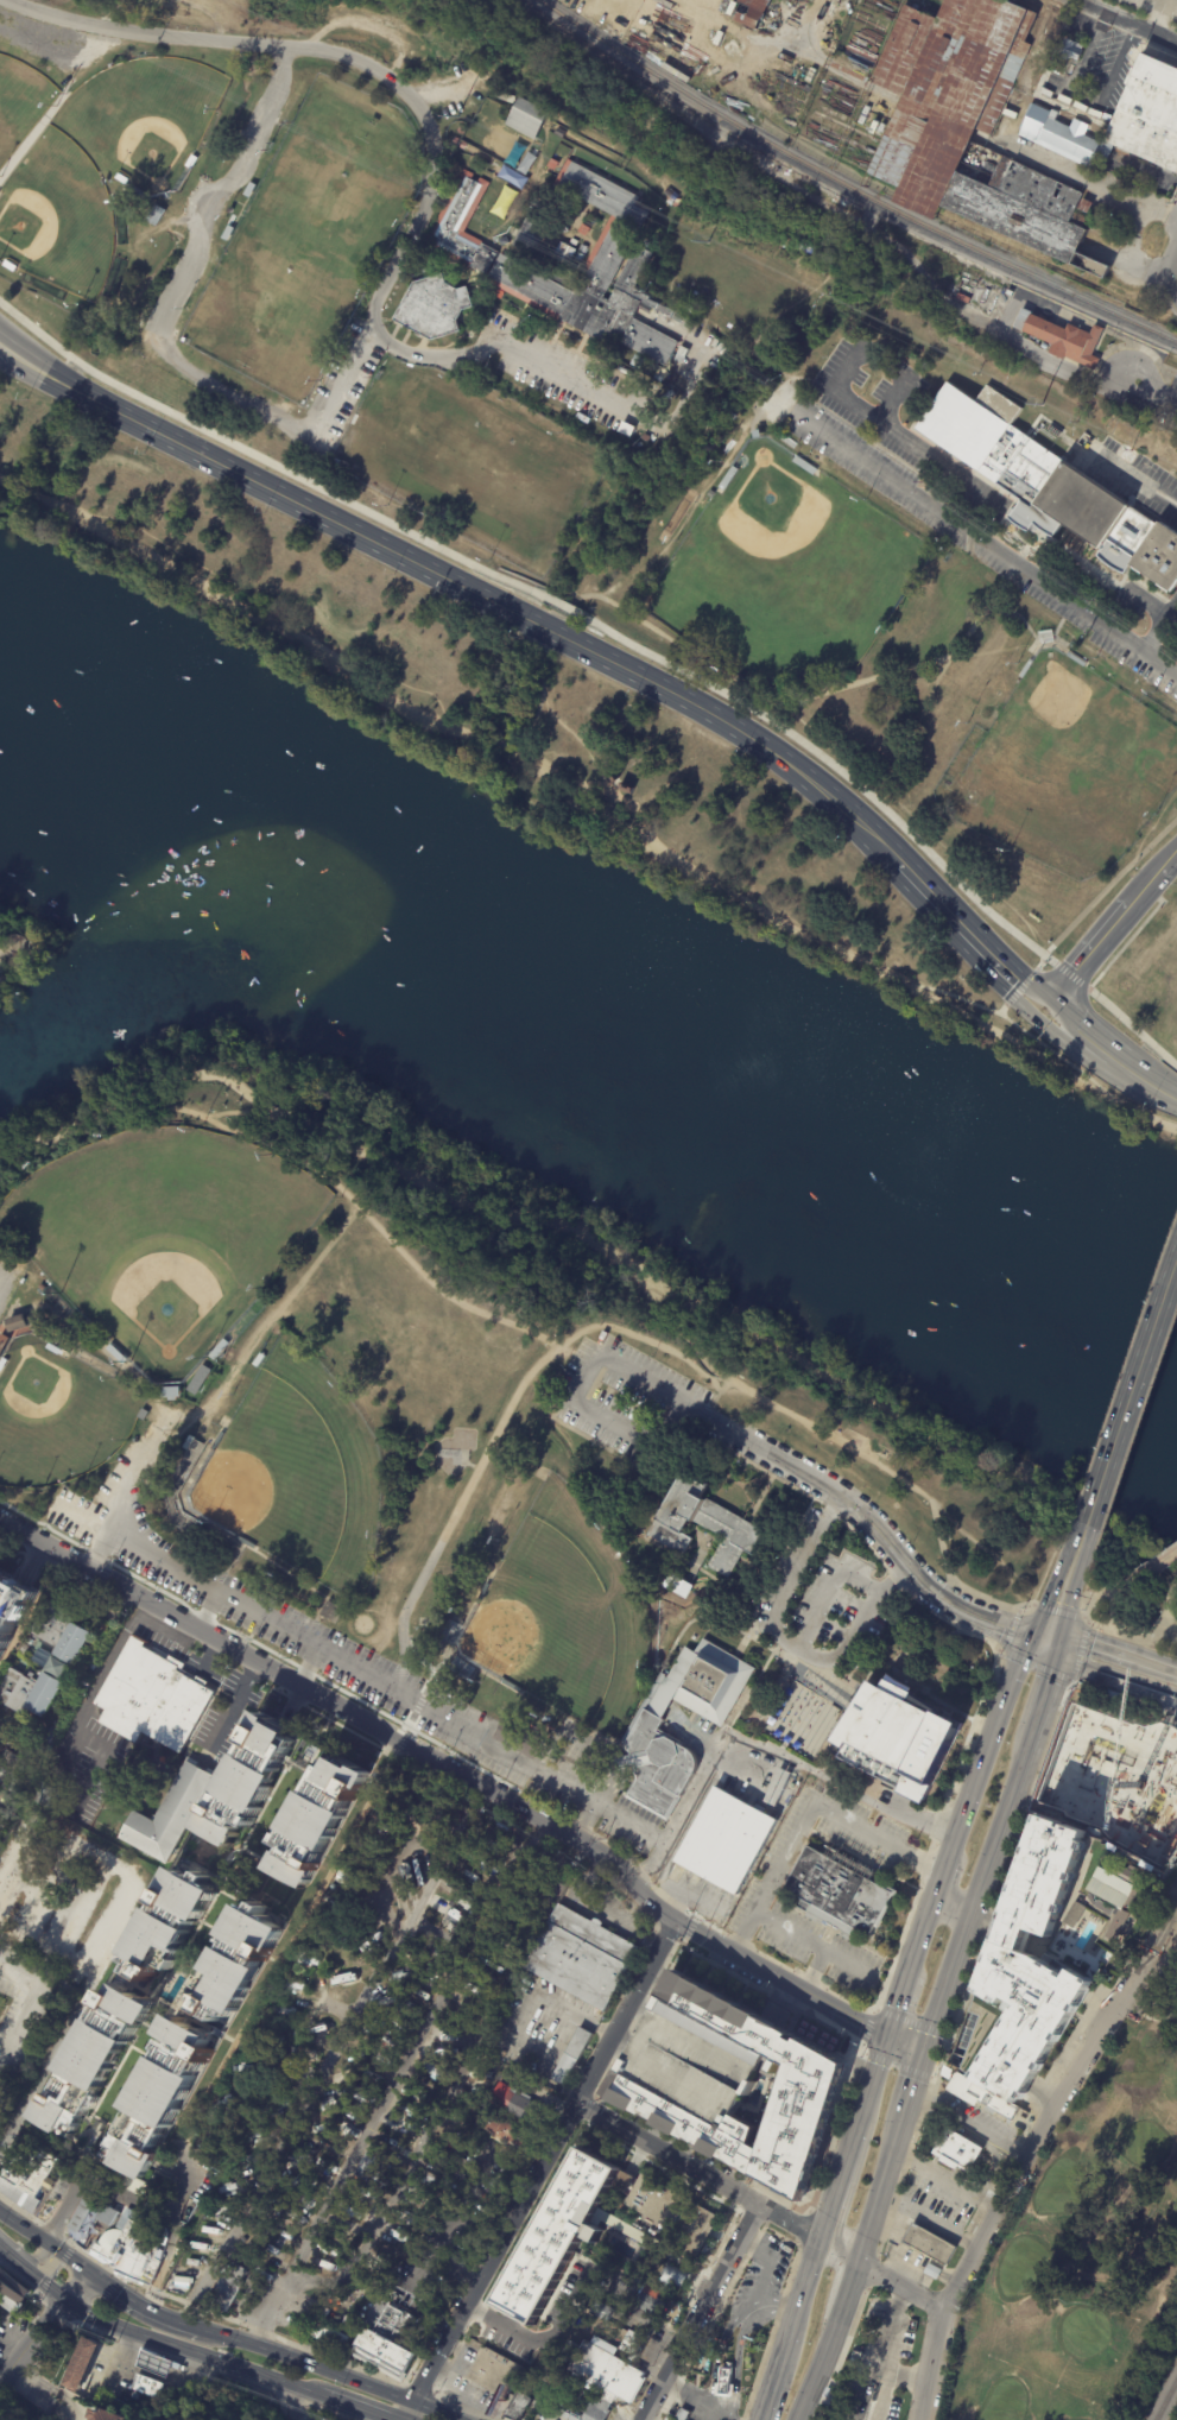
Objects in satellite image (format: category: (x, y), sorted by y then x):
building: (751, 13)
road: (1128, 20)
building: (855, 57)
building: (1068, 58)
building: (481, 76)
road: (393, 83)
road: (1089, 95)
park: (21, 103)
railway: (704, 116)
park: (141, 119)
building: (527, 119)
building: (557, 120)
building: (1121, 121)
building: (574, 125)
building: (970, 127)
building: (562, 133)
railway: (764, 149)
building: (192, 163)
building: (121, 179)
road: (1086, 181)
railway: (849, 185)
building: (251, 190)
building: (1088, 207)
building: (154, 215)
park: (56, 216)
building: (228, 233)
park: (303, 234)
building: (532, 234)
building: (502, 240)
building: (121, 241)
building: (574, 242)
road: (1131, 247)
building: (567, 255)
road: (1170, 263)
building: (488, 264)
building: (7, 266)
building: (425, 268)
road: (1020, 283)
railway: (1037, 289)
building: (1008, 291)
road: (1170, 291)
building: (434, 308)
road: (1081, 315)
road: (160, 323)
road: (15, 337)
building: (1065, 340)
road: (1146, 340)
road: (1118, 346)
road: (1030, 349)
road: (45, 365)
road: (17, 367)
road: (17, 369)
parking lot: (570, 378)
road: (62, 388)
road: (1152, 390)
parking lot: (1167, 404)
road: (866, 416)
building: (627, 429)
building: (758, 434)
road: (778, 438)
road: (265, 463)
park: (462, 463)
building: (805, 466)
parking lot: (1128, 474)
building: (728, 479)
road: (5, 481)
road: (1137, 481)
building: (1049, 485)
road: (23, 488)
park: (561, 491)
parking lot: (955, 497)
road: (309, 510)
road: (968, 533)
park: (783, 574)
road: (1171, 605)
road: (565, 606)
road: (571, 608)
road: (255, 615)
road: (548, 628)
road: (1153, 632)
road: (556, 634)
building: (1076, 661)
building: (1027, 670)
road: (814, 693)
road: (550, 713)
road: (533, 726)
road: (742, 729)
park: (1064, 735)
road: (494, 741)
road: (550, 757)
road: (835, 770)
building: (610, 773)
building: (624, 786)
road: (618, 800)
road: (513, 805)
road: (564, 809)
road: (1167, 864)
road: (698, 874)
road: (1152, 880)
road: (1102, 892)
road: (1139, 896)
road: (950, 916)
building: (11, 944)
road: (1125, 946)
road: (5, 948)
park: (15, 949)
road: (19, 953)
road: (1090, 953)
road: (30, 955)
road: (1071, 978)
road: (1027, 985)
road: (1020, 987)
traffic signals: (1050, 1002)
road: (1002, 1009)
road: (1030, 1015)
road: (1067, 1015)
traffic signals: (1033, 1018)
road: (1006, 1019)
road: (1132, 1028)
river: (583, 1036)
road: (999, 1036)
road: (1090, 1048)
road: (189, 1057)
road: (178, 1072)
road: (200, 1072)
road: (1127, 1073)
road: (1162, 1094)
road: (1137, 1110)
road: (239, 1112)
road: (335, 1187)
park: (160, 1236)
road: (600, 1250)
building: (38, 1276)
road: (1173, 1279)
building: (44, 1284)
building: (64, 1301)
building: (17, 1323)
building: (48, 1334)
building: (2, 1342)
building: (52, 1348)
building: (220, 1348)
building: (116, 1356)
building: (2, 1364)
road: (537, 1371)
building: (200, 1379)
building: (171, 1394)
road: (714, 1396)
parking lot: (615, 1397)
road: (1127, 1409)
park: (56, 1414)
building: (143, 1414)
park: (480, 1432)
building: (186, 1445)
road: (848, 1451)
road: (770, 1457)
park: (293, 1472)
road: (21, 1497)
road: (640, 1497)
building: (704, 1525)
road: (853, 1528)
road: (1152, 1566)
road: (1173, 1575)
road: (891, 1579)
road: (1063, 1584)
park: (1133, 1584)
road: (1120, 1586)
road: (1166, 1597)
road: (1093, 1601)
building: (11, 1607)
road: (207, 1609)
road: (1018, 1610)
park: (562, 1612)
road: (1059, 1612)
building: (333, 1613)
road: (707, 1615)
road: (1167, 1619)
road: (1107, 1628)
road: (1126, 1631)
road: (1172, 1635)
traffic signals: (1043, 1642)
road: (407, 1645)
road: (1109, 1648)
parking lot: (327, 1649)
road: (904, 1651)
road: (114, 1653)
building: (65, 1658)
road: (834, 1658)
road: (786, 1661)
road: (310, 1666)
road: (809, 1668)
road: (796, 1669)
road: (1048, 1669)
road: (814, 1670)
road: (1099, 1672)
road: (806, 1673)
road: (366, 1674)
road: (818, 1674)
road: (811, 1675)
road: (824, 1676)
road: (823, 1677)
road: (816, 1679)
road: (1042, 1679)
road: (829, 1680)
road: (821, 1682)
road: (768, 1683)
road: (834, 1683)
building: (702, 1685)
road: (825, 1686)
road: (839, 1686)
road: (752, 1687)
road: (754, 1687)
road: (830, 1689)
road: (843, 1689)
road: (820, 1692)
road: (834, 1692)
road: (1169, 1693)
road: (926, 1694)
road: (840, 1695)
building: (156, 1700)
road: (848, 1701)
road: (760, 1702)
road: (1007, 1705)
road: (847, 1707)
road: (236, 1711)
building: (217, 1713)
road: (834, 1727)
road: (571, 1732)
building: (51, 1739)
building: (900, 1739)
building: (519, 1740)
road: (393, 1749)
road: (962, 1752)
road: (810, 1758)
road: (622, 1765)
road: (612, 1767)
building: (656, 1767)
building: (20, 1770)
building: (1119, 1775)
building: (1157, 1775)
road: (466, 1777)
building: (247, 1781)
road: (692, 1790)
road: (613, 1792)
building: (44, 1794)
road: (811, 1811)
building: (163, 1813)
road: (969, 1815)
building: (317, 1820)
road: (583, 1821)
building: (723, 1839)
road: (523, 1850)
building: (1115, 1851)
building: (355, 1859)
road: (925, 1869)
road: (947, 1877)
building: (1162, 1878)
road: (2, 1879)
road: (977, 1881)
road: (1001, 1882)
road: (1175, 1883)
building: (1109, 1887)
building: (398, 1891)
building: (837, 1893)
road: (954, 1904)
road: (605, 1913)
building: (1072, 1913)
building: (455, 1919)
building: (167, 1928)
road: (926, 1936)
road: (814, 1944)
road: (102, 1947)
road: (897, 1948)
road: (279, 1954)
building: (295, 1954)
building: (583, 1958)
parking lot: (1148, 1966)
building: (233, 1969)
road: (816, 1970)
building: (1026, 1970)
building: (341, 1979)
building: (492, 1979)
building: (1169, 1998)
road: (903, 2003)
road: (31, 2004)
road: (873, 2009)
road: (910, 2022)
road: (456, 2023)
road: (867, 2027)
building: (252, 2032)
traffic signals: (893, 2035)
road: (947, 2035)
traffic signals: (925, 2047)
road: (860, 2049)
building: (572, 2056)
building: (694, 2062)
parking garage: (694, 2062)
building: (96, 2065)
building: (291, 2065)
road: (897, 2065)
road: (316, 2066)
road: (915, 2079)
building: (808, 2083)
road: (875, 2084)
building: (159, 2098)
building: (514, 2103)
road: (970, 2119)
building: (506, 2131)
park: (1143, 2143)
road: (1032, 2147)
building: (956, 2152)
road: (548, 2162)
building: (367, 2163)
road: (850, 2163)
road: (704, 2169)
road: (165, 2172)
building: (26, 2176)
road: (947, 2179)
park: (1057, 2187)
road: (120, 2195)
road: (917, 2211)
building: (222, 2213)
road: (834, 2214)
building: (673, 2216)
building: (81, 2218)
building: (112, 2218)
building: (151, 2225)
road: (21, 2228)
road: (839, 2229)
building: (159, 2232)
building: (556, 2235)
road: (169, 2236)
building: (929, 2244)
road: (5, 2251)
park: (1084, 2251)
road: (21, 2252)
building: (129, 2254)
road: (897, 2254)
road: (65, 2257)
park: (1029, 2261)
road: (910, 2263)
road: (767, 2266)
road: (853, 2266)
traffic signals: (87, 2271)
building: (934, 2273)
road: (160, 2274)
building: (672, 2275)
road: (903, 2277)
road: (39, 2279)
building: (183, 2283)
road: (77, 2286)
building: (229, 2288)
building: (597, 2291)
building: (12, 2294)
road: (151, 2296)
traffic signals: (69, 2301)
building: (652, 2304)
road: (773, 2305)
road: (145, 2306)
road: (698, 2310)
road: (804, 2310)
building: (601, 2311)
building: (390, 2318)
park: (1081, 2331)
building: (331, 2337)
road: (112, 2338)
building: (628, 2342)
building: (475, 2348)
road: (881, 2349)
road: (191, 2350)
road: (34, 2351)
road: (455, 2352)
road: (133, 2353)
building: (382, 2353)
road: (716, 2355)
road: (132, 2357)
road: (153, 2359)
building: (151, 2362)
road: (310, 2363)
building: (80, 2364)
road: (150, 2367)
road: (738, 2367)
road: (171, 2369)
building: (606, 2370)
road: (170, 2372)
building: (496, 2372)
road: (146, 2374)
road: (201, 2375)
gas station: (134, 2376)
road: (449, 2377)
building: (726, 2383)
building: (145, 2387)
park: (1163, 2393)
building: (131, 2396)
road: (43, 2397)
road: (696, 2397)
road: (774, 2401)
park: (1005, 2401)
railway: (1166, 2401)
road: (292, 2403)
road: (462, 2403)
building: (518, 2405)
road: (353, 2407)
road: (405, 2409)
road: (432, 2409)
building: (583, 2410)
building: (101, 2415)
building: (683, 2415)
building: (40, 2418)
building: (672, 2419)

